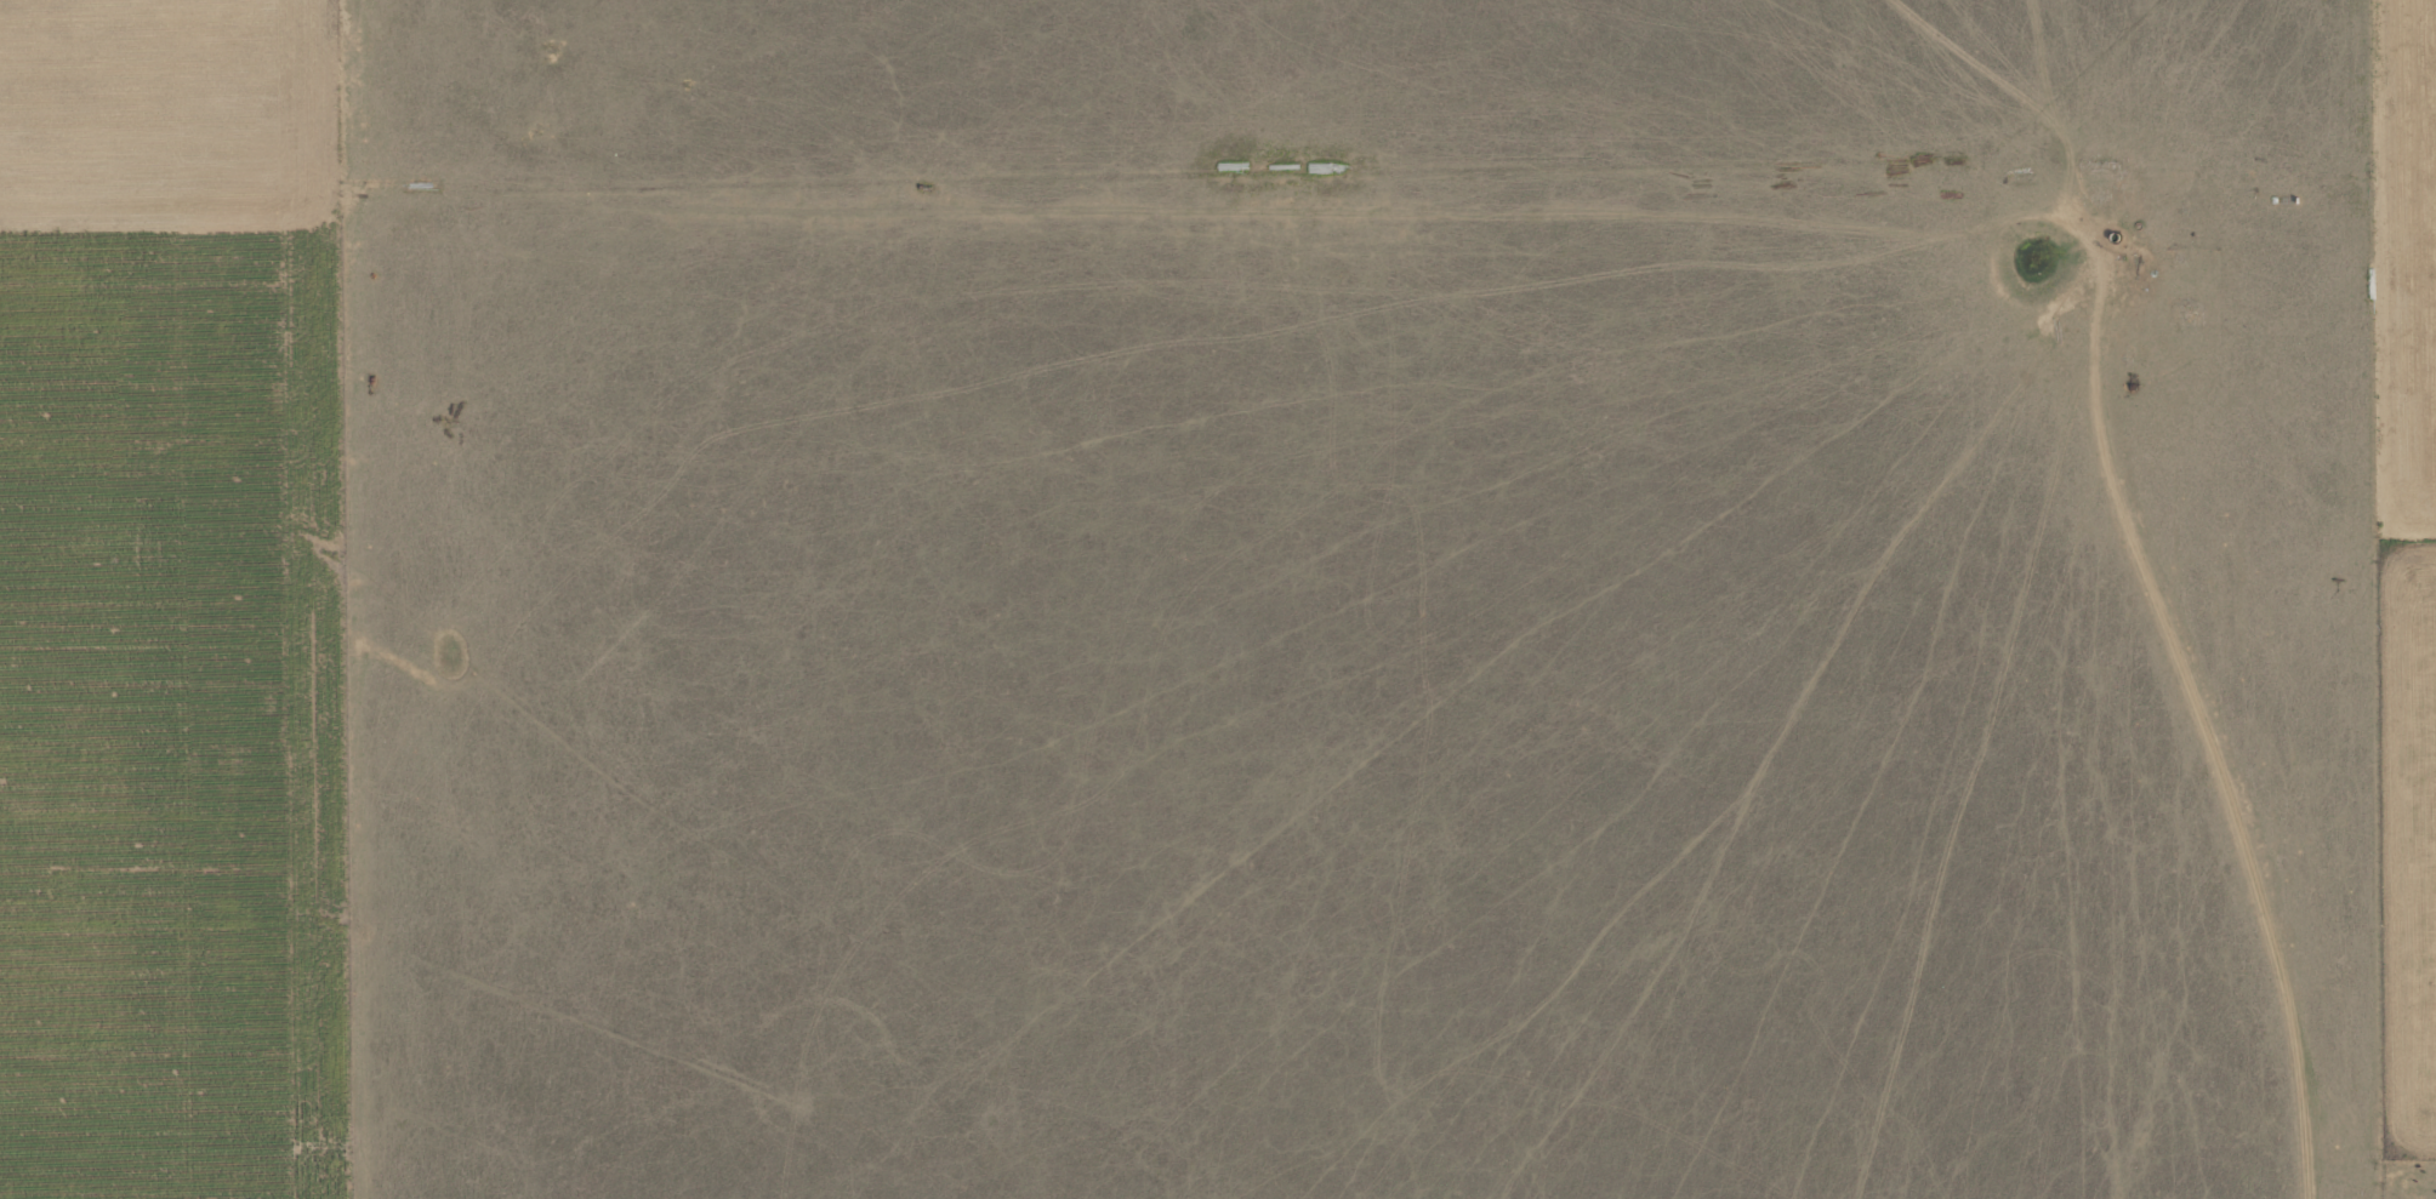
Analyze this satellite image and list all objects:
road: (2328, 599)

